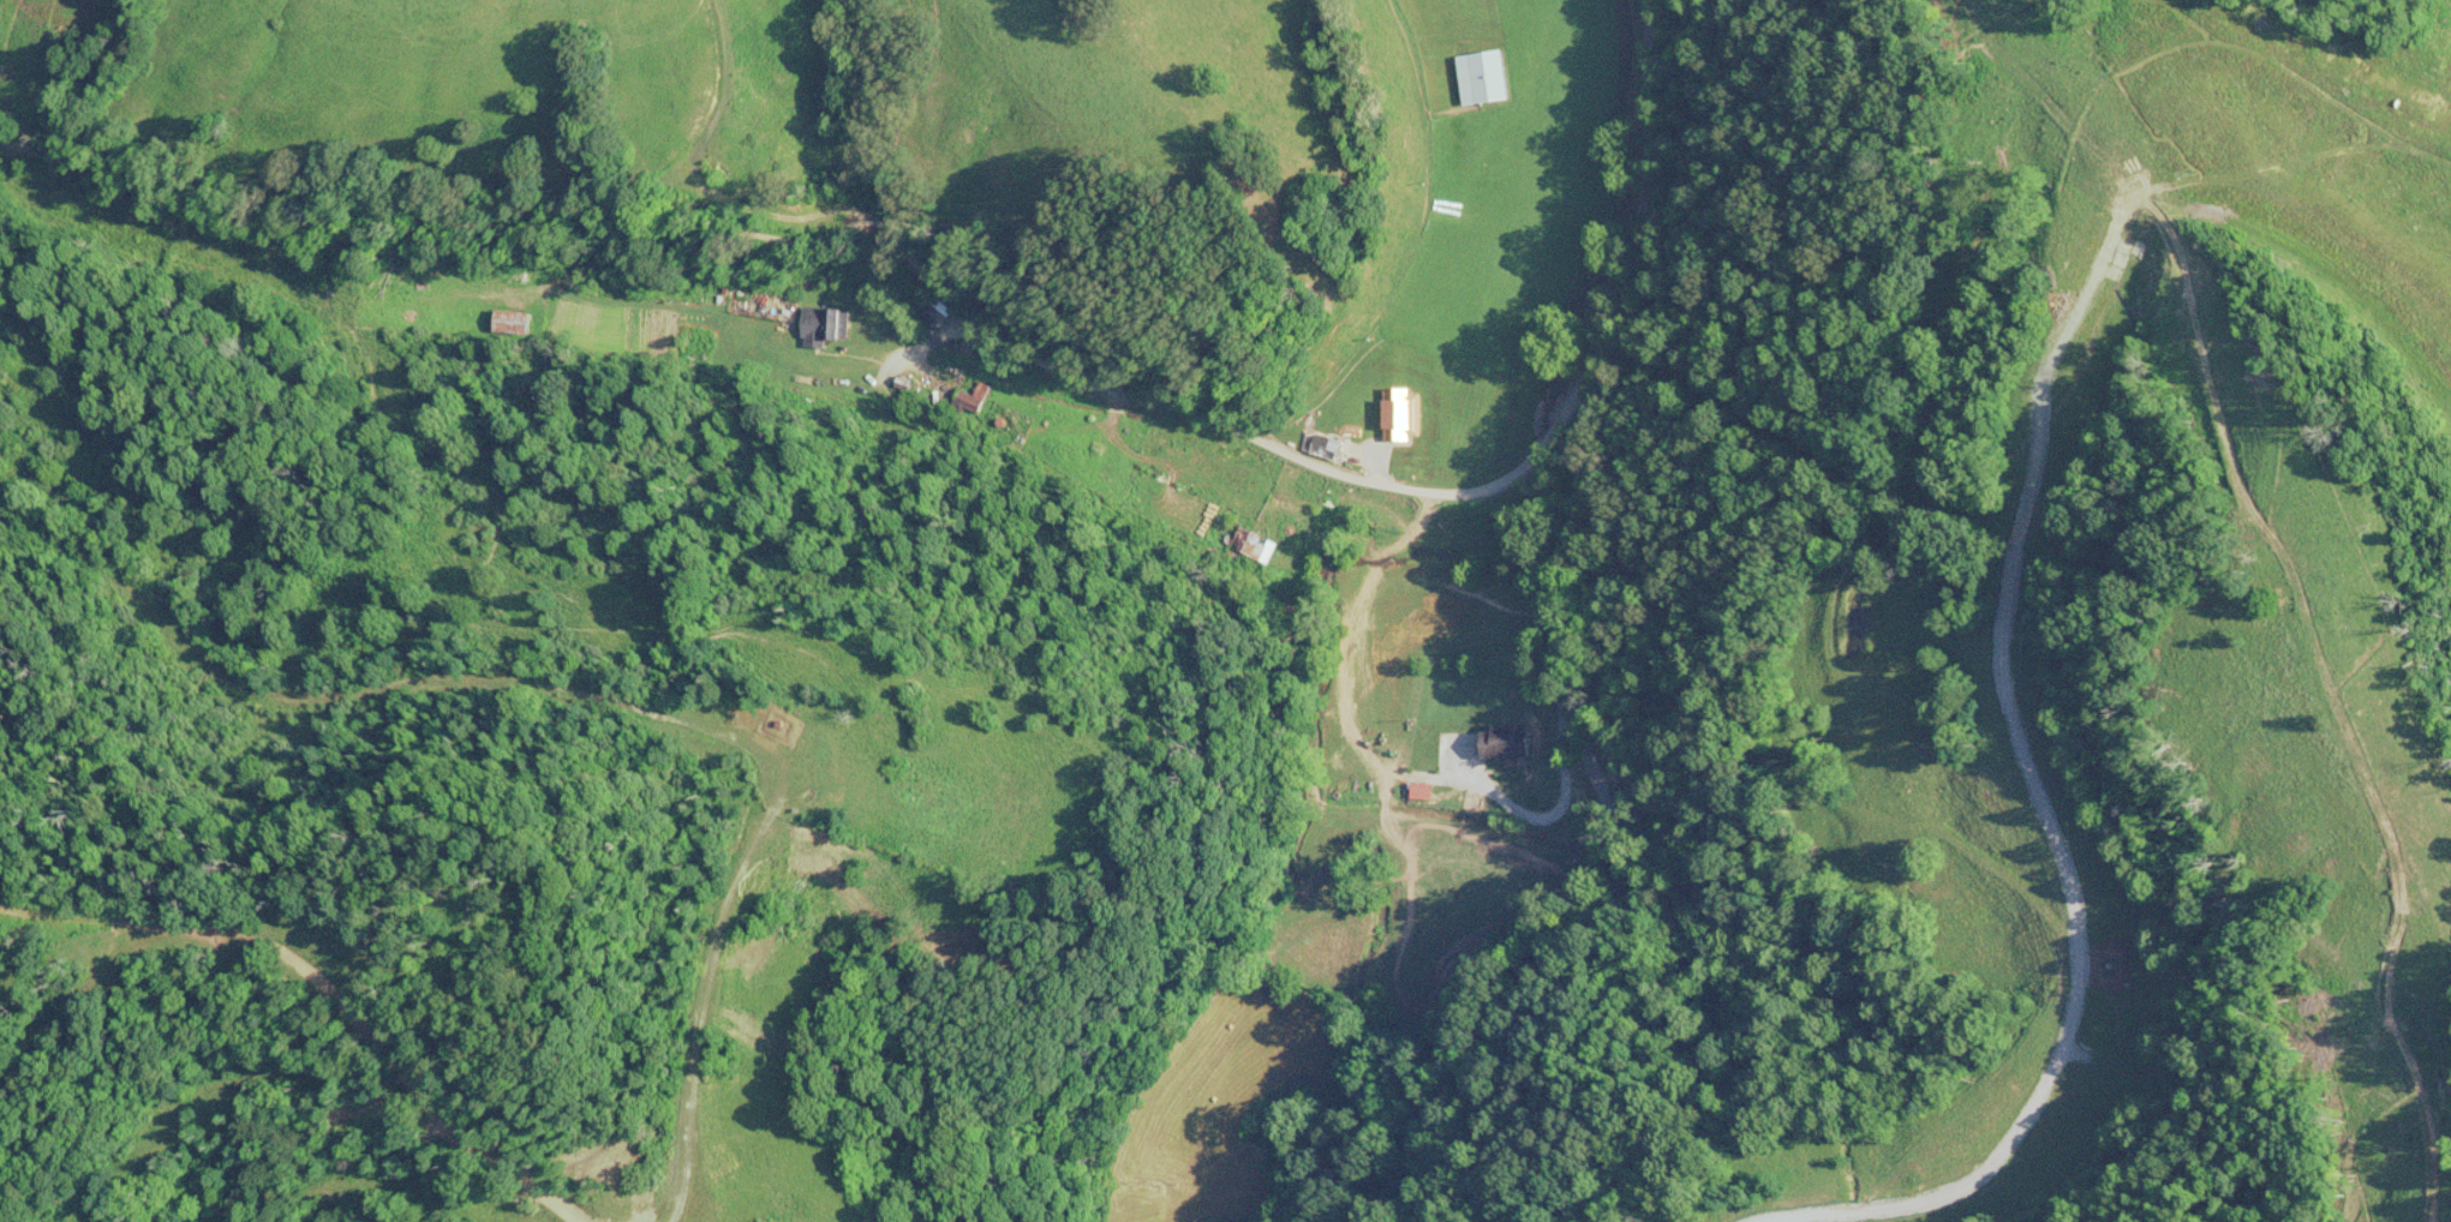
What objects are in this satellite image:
building: (1484, 79)
building: (514, 324)
building: (827, 324)
road: (1100, 387)
building: (1403, 417)
building: (1326, 448)
road: (1560, 625)
building: (1507, 742)

